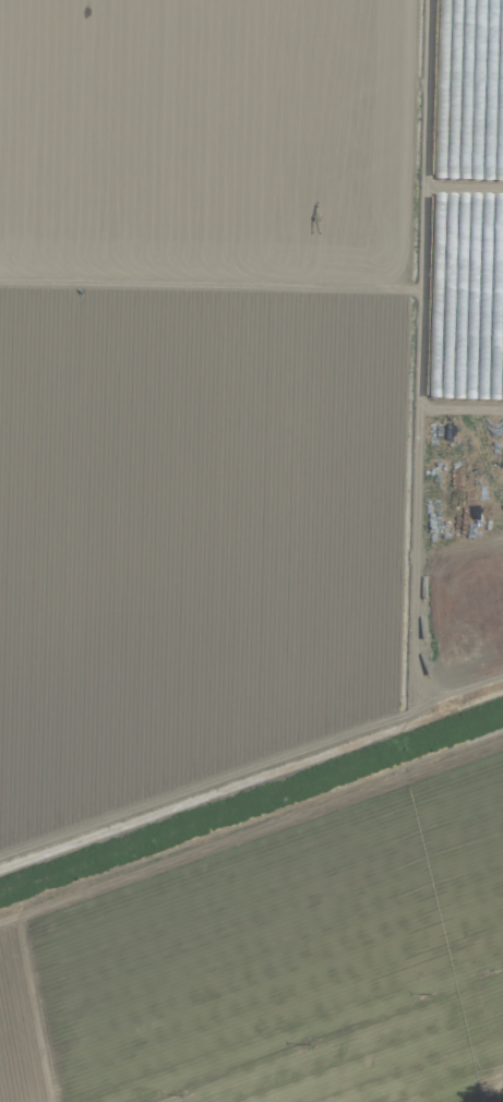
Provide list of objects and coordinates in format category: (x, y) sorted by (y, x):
crop: (460, 31)
crop: (459, 179)
crop: (456, 399)
crop: (251, 551)
crop: (452, 606)

